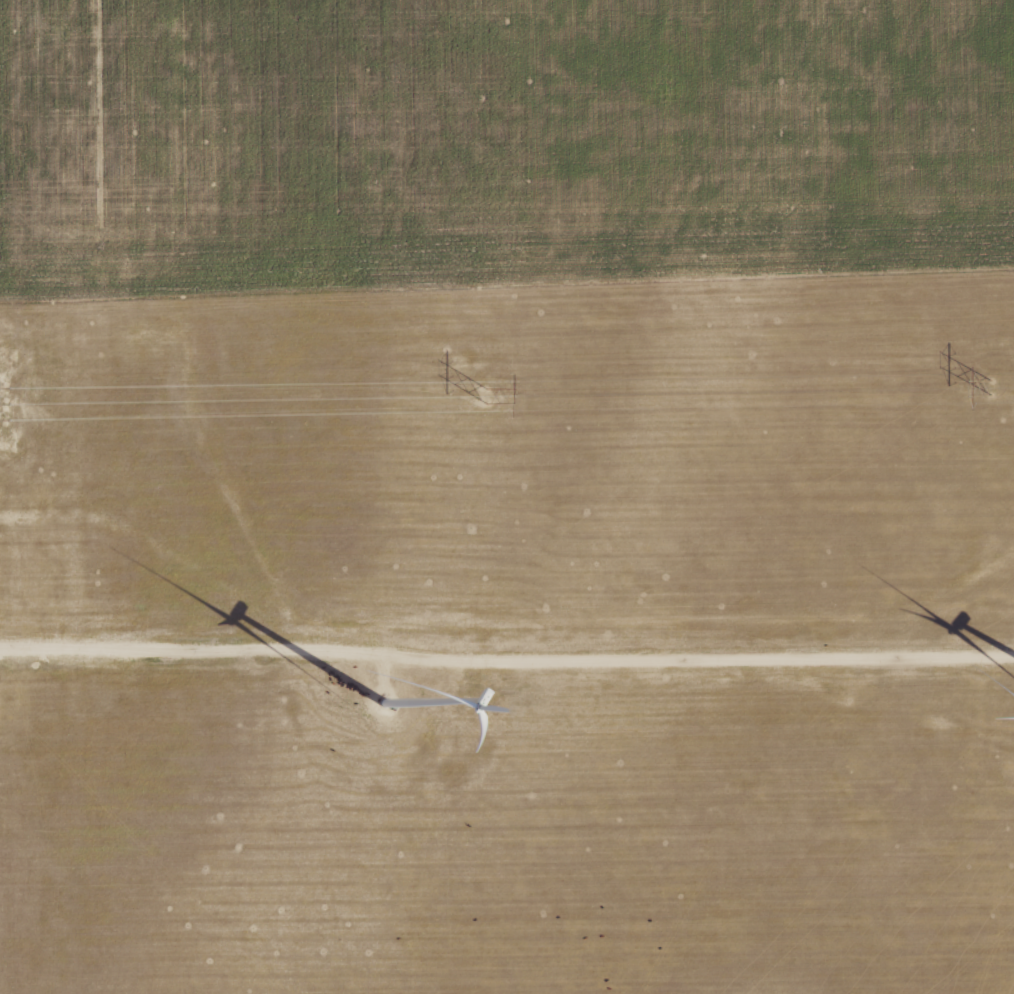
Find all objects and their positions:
power tower: (991, 389)
power tower: (482, 395)
wind turbine: (386, 707)

